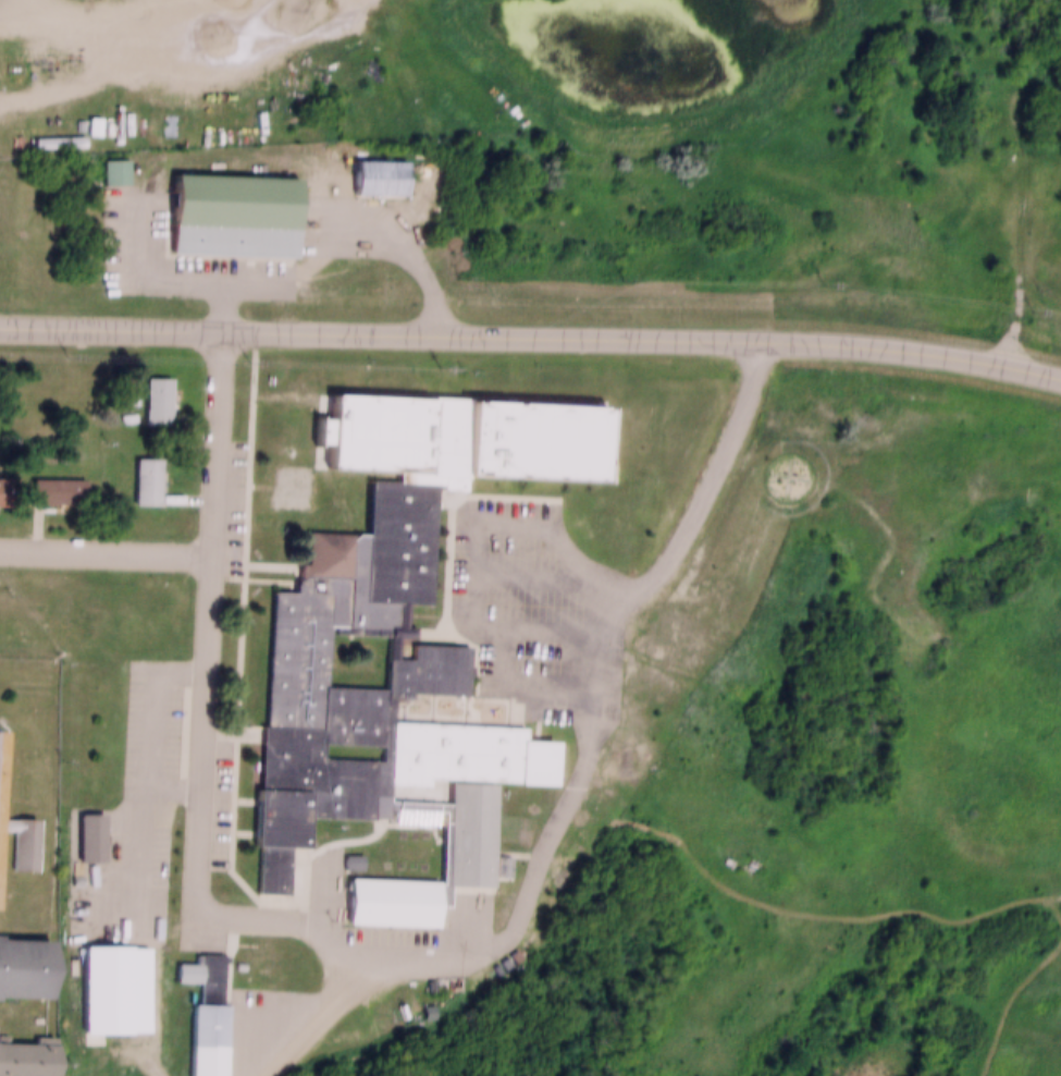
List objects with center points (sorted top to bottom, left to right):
road: (184, 66)
building: (88, 117)
building: (53, 133)
building: (60, 143)
building: (109, 163)
building: (372, 168)
building: (116, 173)
building: (226, 206)
road: (277, 274)
road: (219, 299)
road: (531, 331)
building: (152, 391)
building: (433, 460)
building: (143, 472)
building: (288, 478)
building: (52, 482)
building: (5, 493)
building: (61, 493)
road: (473, 540)
road: (108, 548)
road: (531, 568)
road: (212, 620)
road: (511, 678)
building: (645, 687)
building: (351, 714)
road: (160, 721)
road: (569, 771)
building: (459, 822)
building: (84, 828)
building: (24, 851)
building: (181, 963)
building: (275, 978)
building: (98, 979)
road: (312, 1015)
building: (199, 1034)

